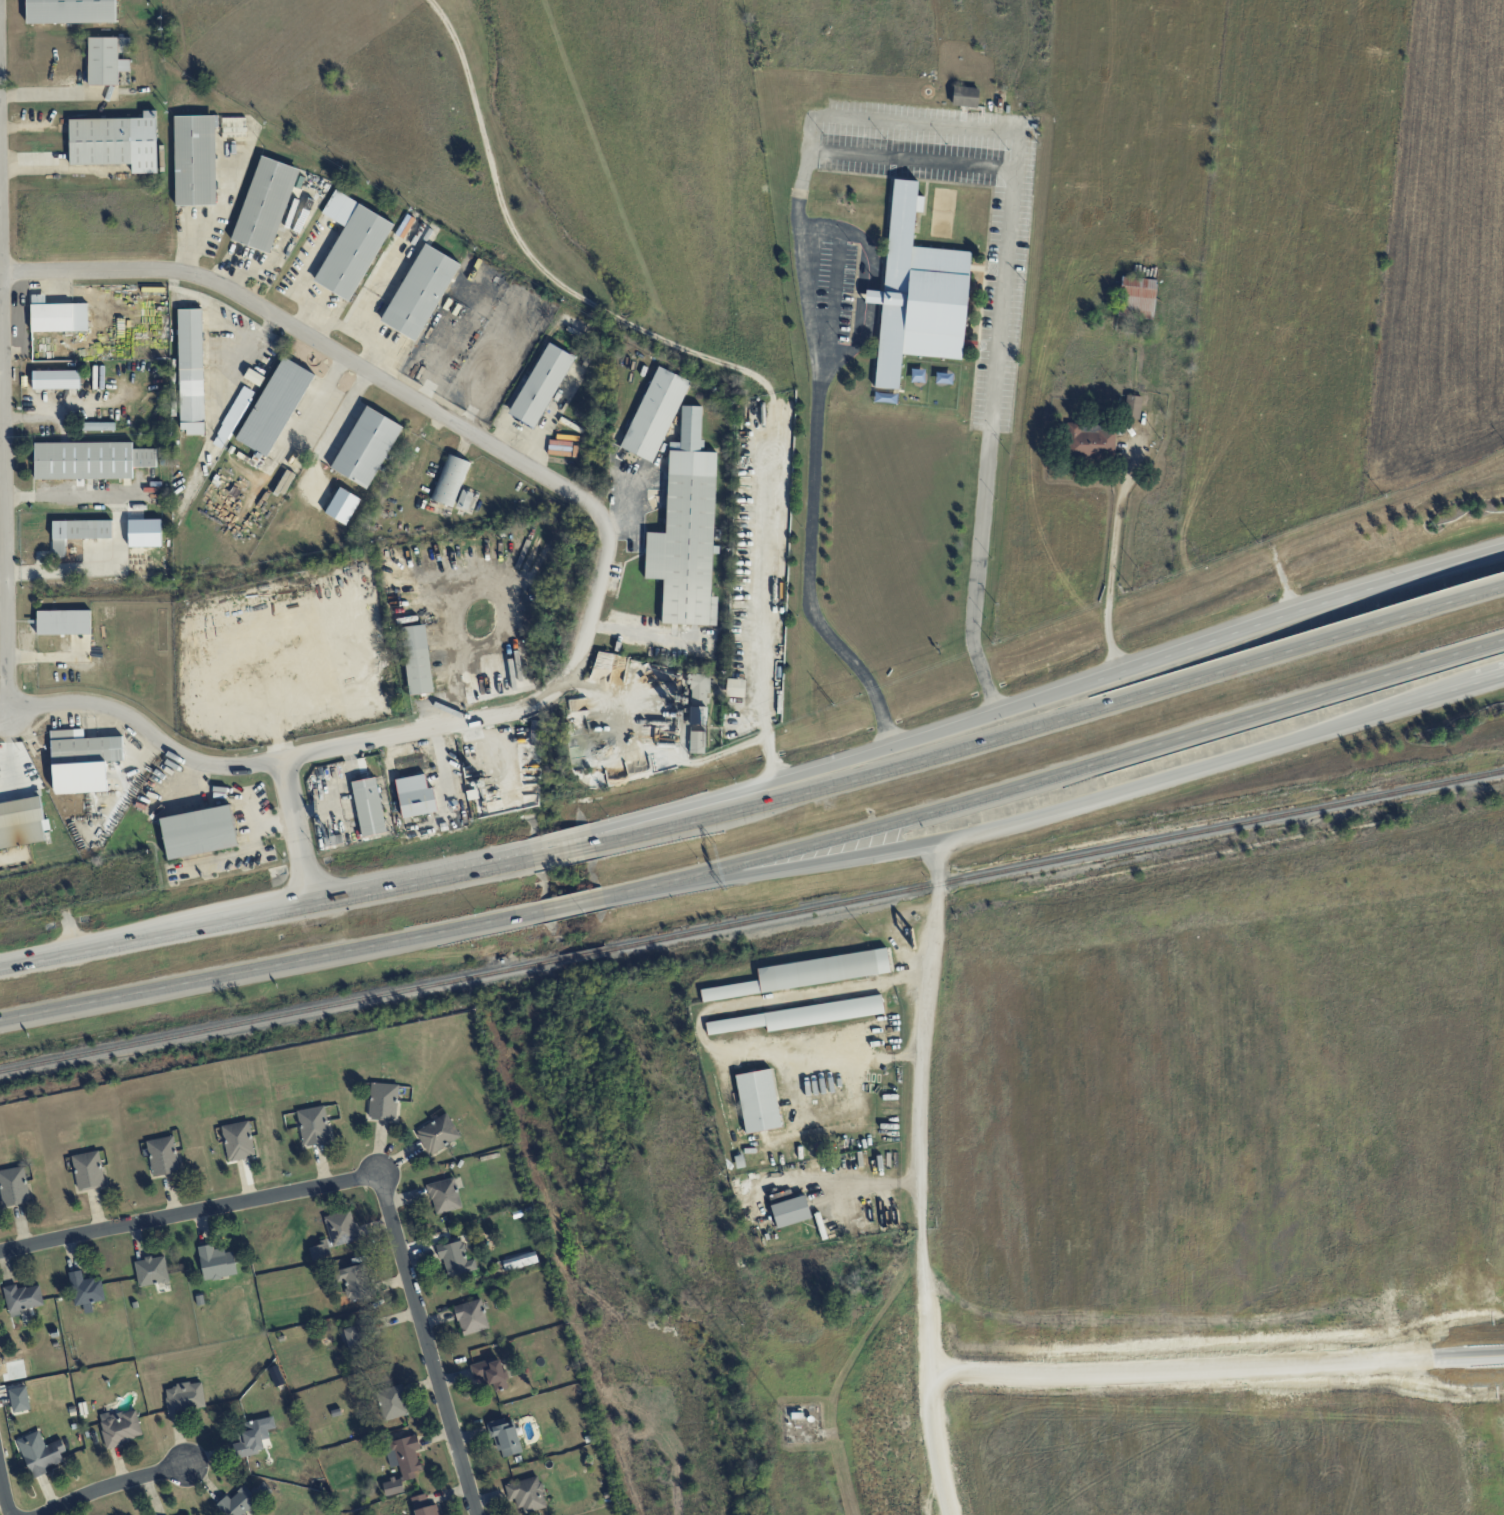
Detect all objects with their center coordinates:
building: (70, 11)
building: (106, 59)
road: (42, 95)
building: (965, 96)
building: (233, 126)
building: (115, 142)
road: (877, 155)
building: (195, 160)
road: (30, 165)
building: (265, 204)
building: (351, 245)
building: (420, 292)
road: (189, 293)
building: (917, 293)
road: (368, 296)
building: (1137, 297)
building: (57, 315)
road: (347, 329)
road: (238, 330)
road: (702, 356)
building: (190, 371)
road: (244, 372)
building: (254, 376)
building: (56, 379)
building: (541, 384)
road: (320, 393)
building: (1132, 406)
building: (274, 407)
road: (342, 412)
building: (654, 414)
road: (34, 416)
building: (98, 425)
road: (4, 429)
building: (1089, 442)
building: (366, 447)
building: (89, 460)
road: (311, 465)
road: (2, 470)
building: (450, 480)
road: (70, 494)
building: (464, 499)
road: (625, 504)
building: (342, 505)
building: (686, 529)
building: (78, 532)
road: (1112, 565)
road: (105, 567)
road: (603, 567)
road: (2, 570)
road: (13, 570)
road: (3, 605)
road: (1299, 612)
building: (63, 622)
road: (635, 631)
building: (416, 659)
road: (1489, 680)
building: (735, 687)
building: (698, 689)
road: (4, 696)
road: (1429, 699)
road: (6, 711)
road: (1050, 720)
building: (696, 729)
building: (535, 731)
road: (658, 753)
building: (82, 760)
road: (845, 761)
road: (1056, 777)
building: (415, 796)
building: (368, 806)
building: (22, 822)
road: (999, 825)
road: (296, 828)
building: (198, 831)
road: (562, 849)
railway: (1055, 859)
road: (420, 877)
road: (573, 903)
road: (155, 931)
railway: (582, 955)
road: (271, 964)
building: (806, 973)
railway: (278, 1015)
building: (798, 1016)
building: (757, 1100)
building: (383, 1101)
building: (313, 1125)
building: (438, 1133)
building: (238, 1140)
building: (163, 1155)
building: (88, 1170)
road: (361, 1176)
road: (920, 1178)
building: (13, 1186)
building: (444, 1195)
building: (790, 1211)
building: (341, 1227)
building: (319, 1250)
building: (455, 1258)
building: (520, 1260)
building: (216, 1262)
building: (153, 1273)
building: (352, 1282)
building: (85, 1290)
building: (22, 1298)
building: (471, 1316)
building: (352, 1337)
road: (1218, 1368)
building: (490, 1373)
building: (184, 1397)
building: (19, 1399)
building: (392, 1401)
building: (120, 1427)
building: (506, 1437)
building: (249, 1440)
building: (40, 1453)
building: (404, 1456)
road: (116, 1486)
building: (526, 1493)
road: (4, 1494)
building: (243, 1499)
building: (423, 1506)

